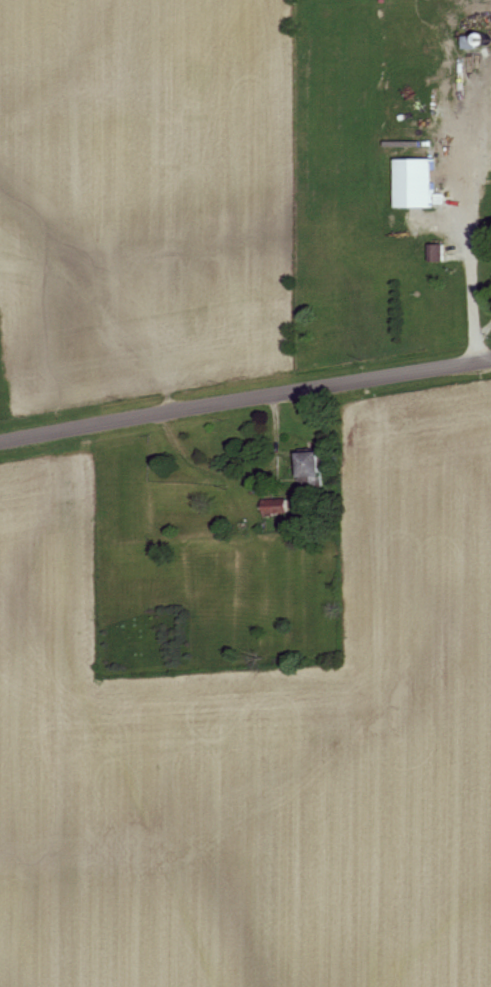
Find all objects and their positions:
building: (421, 183)
road: (473, 269)
road: (245, 397)
building: (278, 506)

